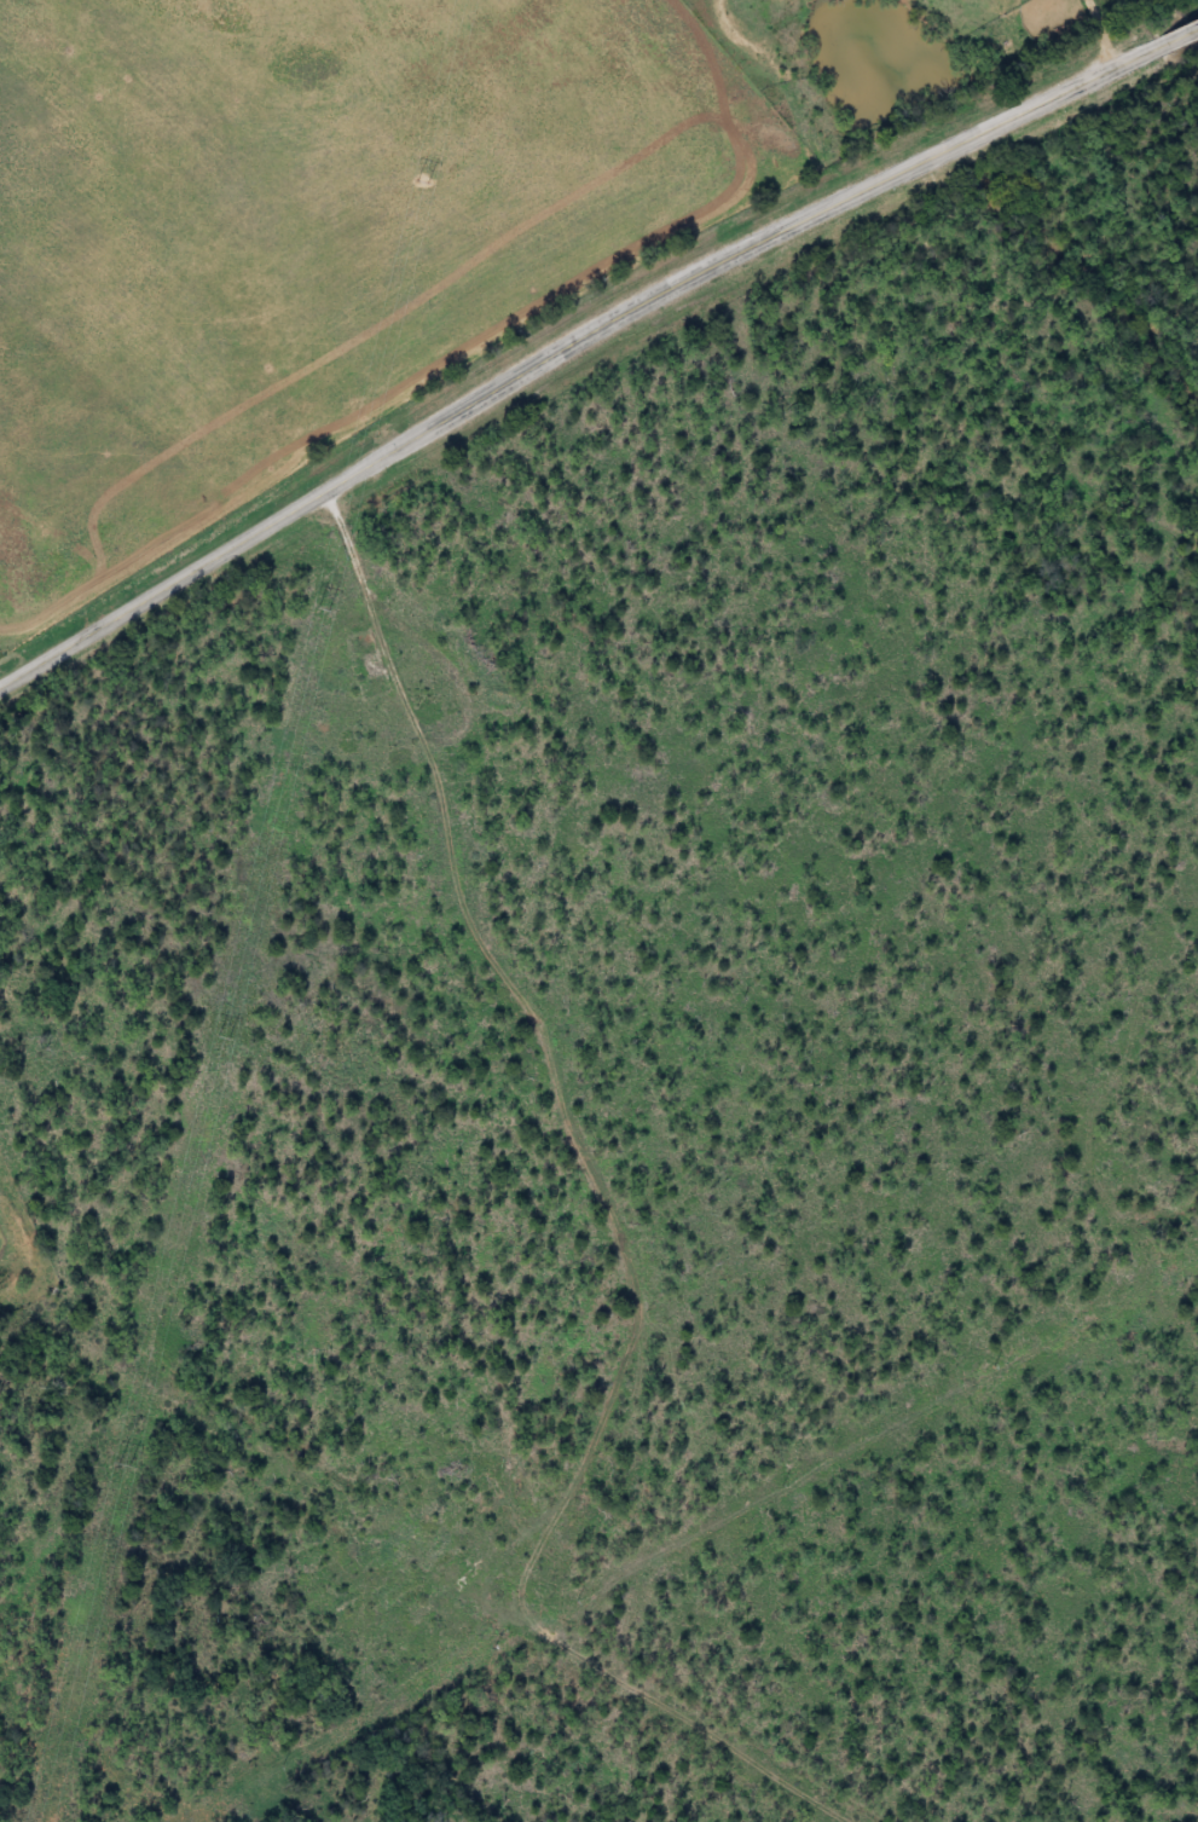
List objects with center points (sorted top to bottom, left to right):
road: (1183, 34)
road: (573, 349)
railway: (436, 1546)

